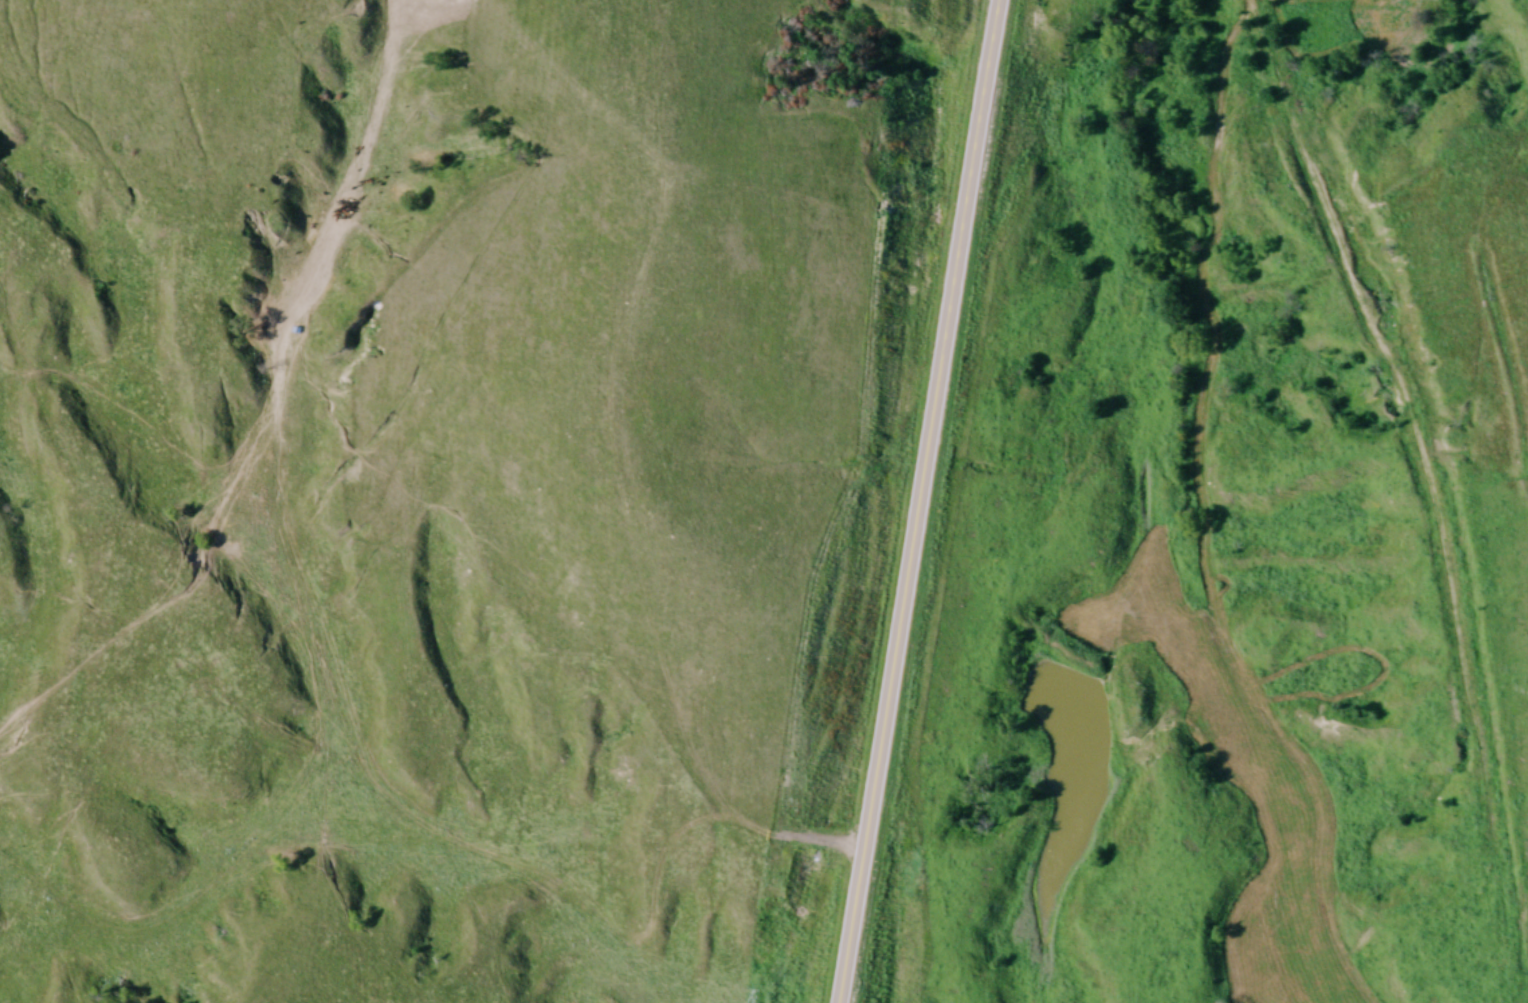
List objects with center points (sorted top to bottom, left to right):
road: (921, 501)

